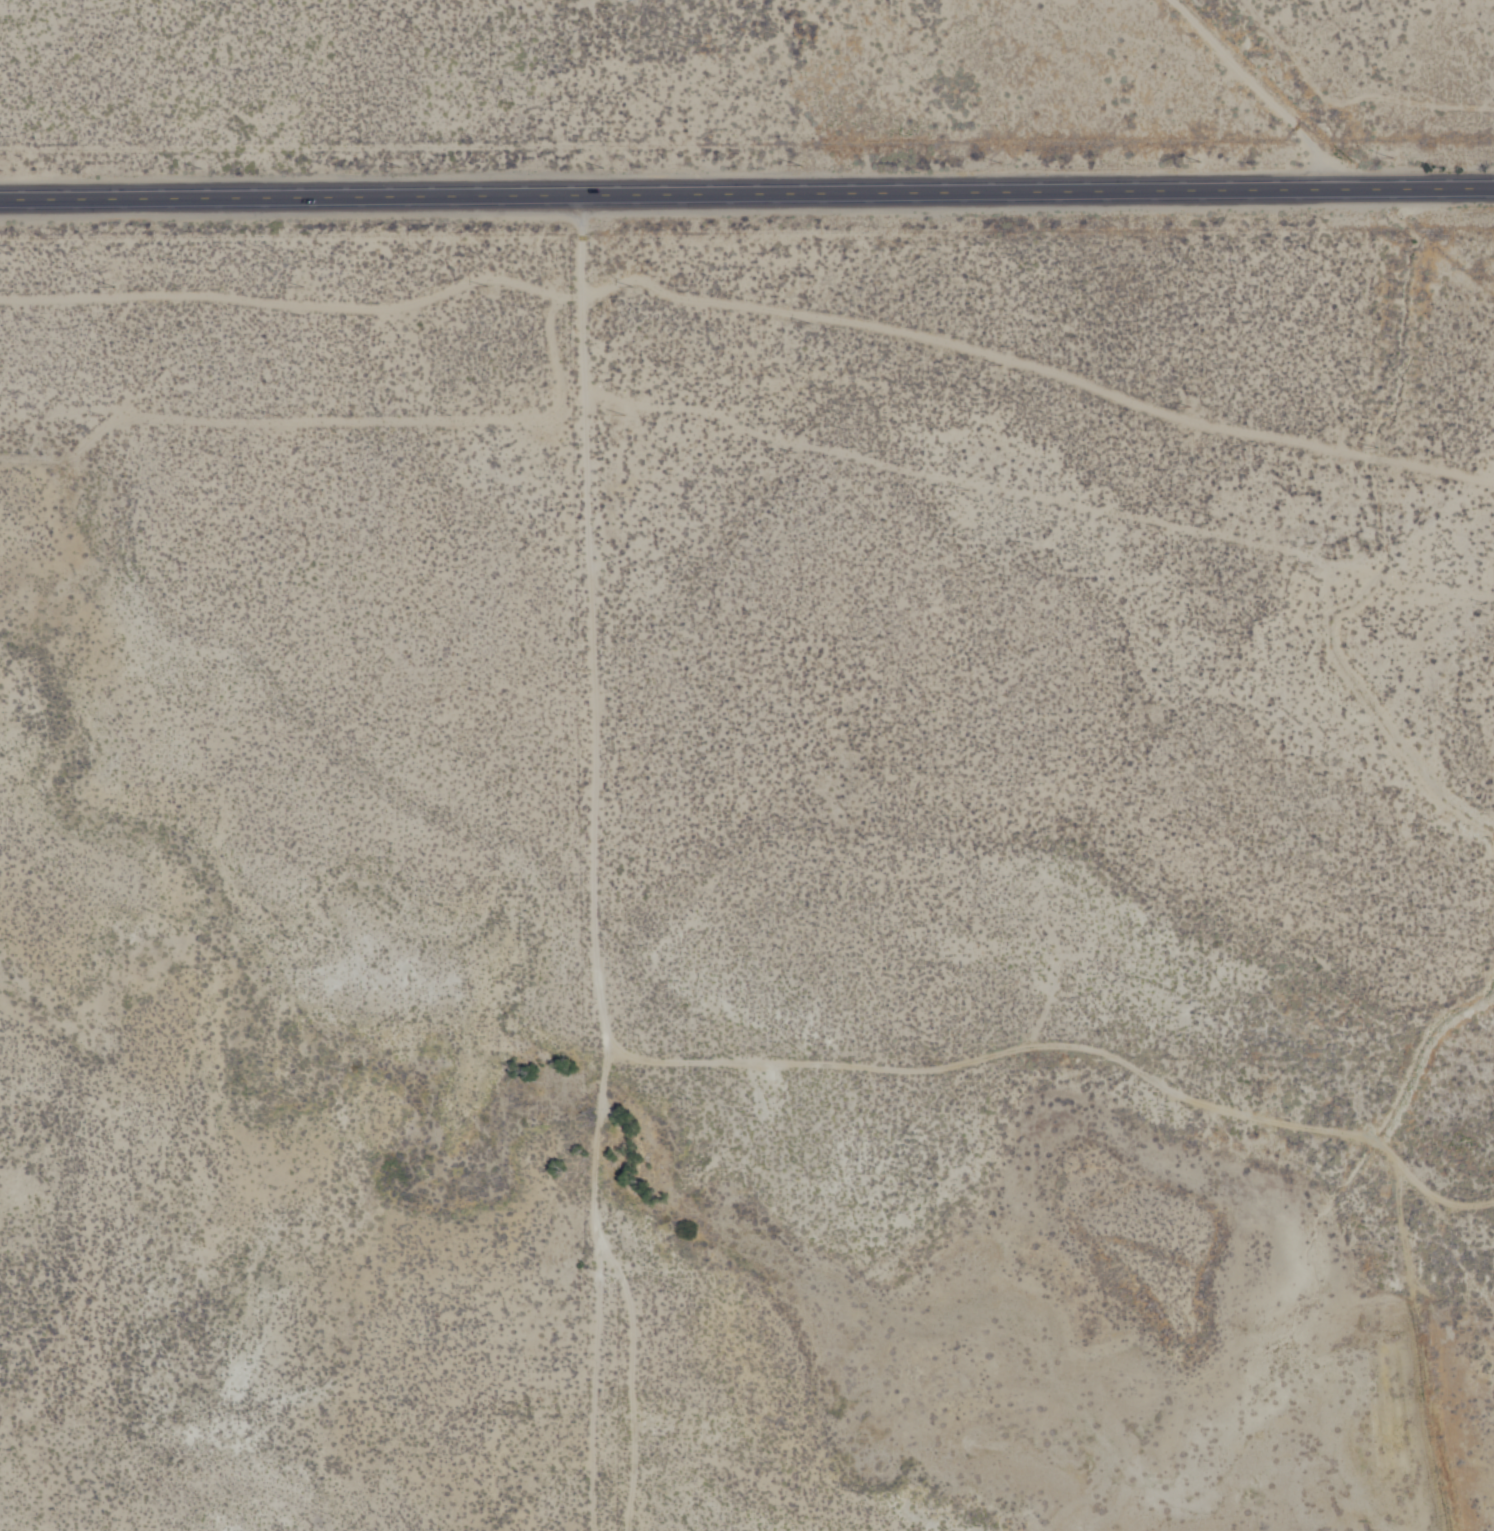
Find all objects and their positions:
road: (1254, 96)
road: (746, 194)
road: (751, 303)
road: (330, 428)
road: (1042, 509)
road: (602, 868)
road: (1075, 1045)
road: (1429, 1351)
road: (602, 1376)

